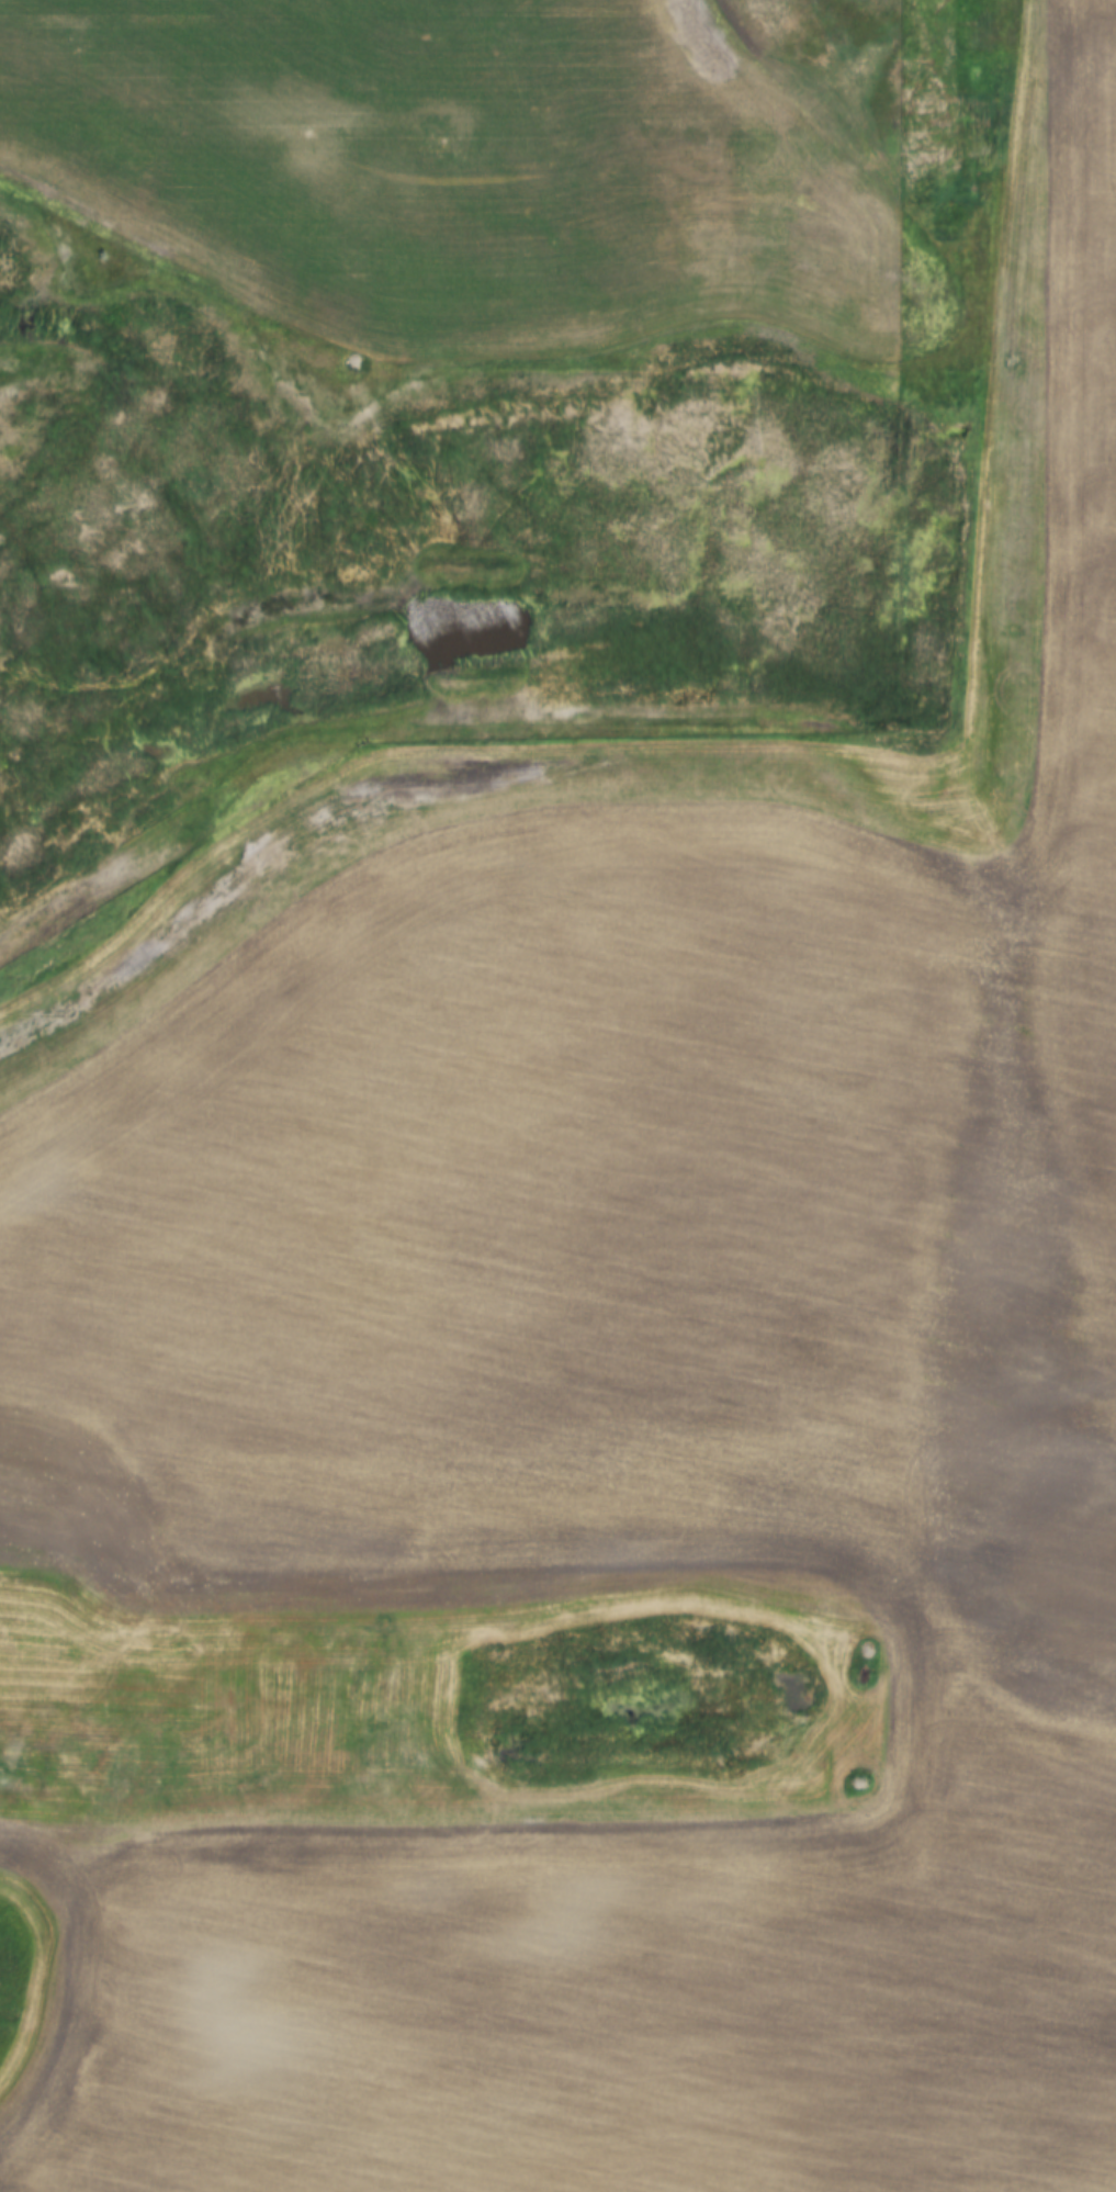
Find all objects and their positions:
road: (963, 762)

